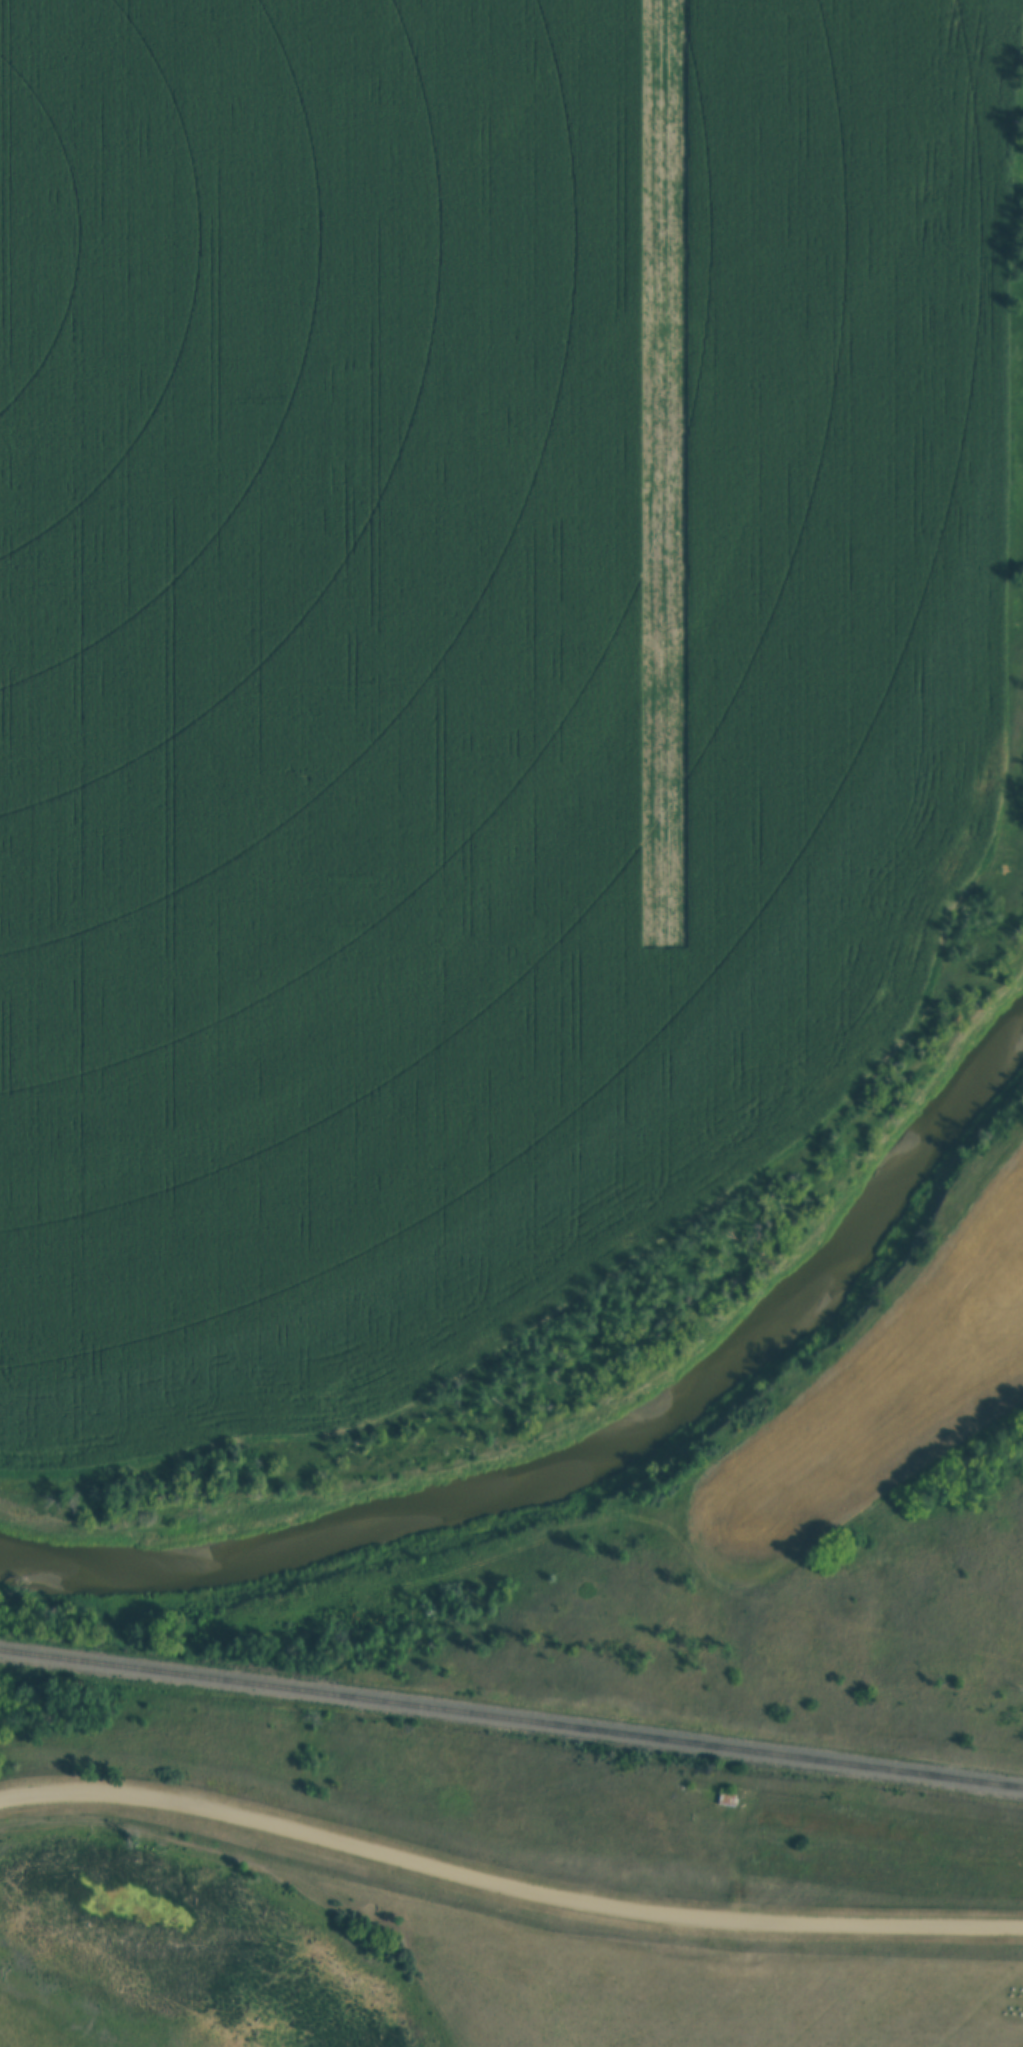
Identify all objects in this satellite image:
railway: (511, 1722)
building: (729, 1800)
road: (507, 1884)

